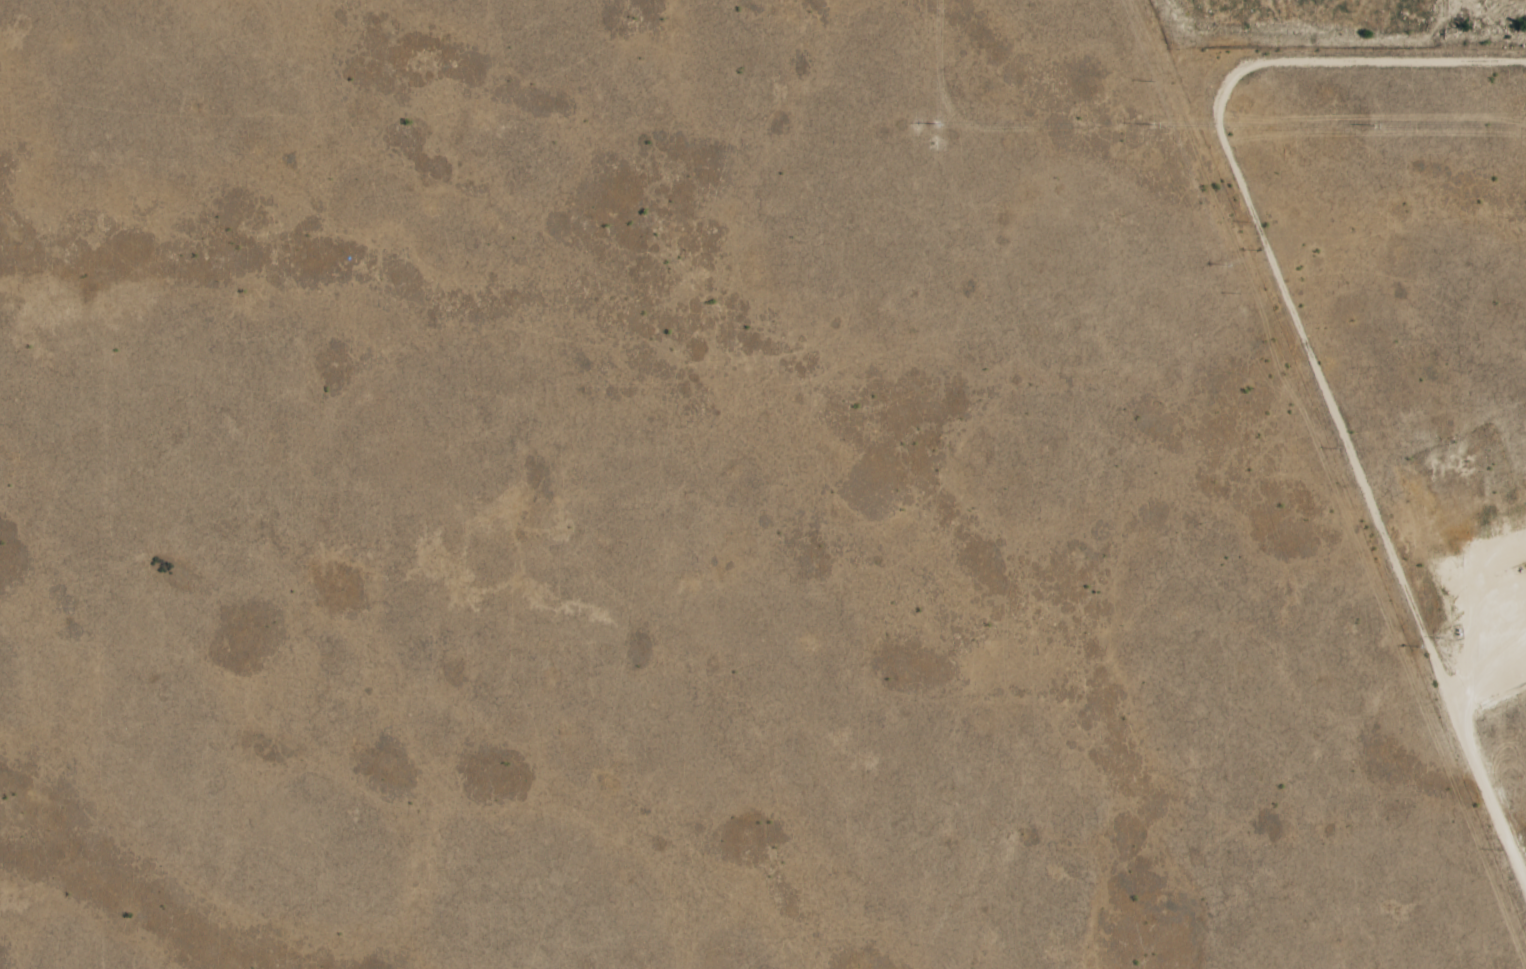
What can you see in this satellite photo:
road: (1316, 336)

